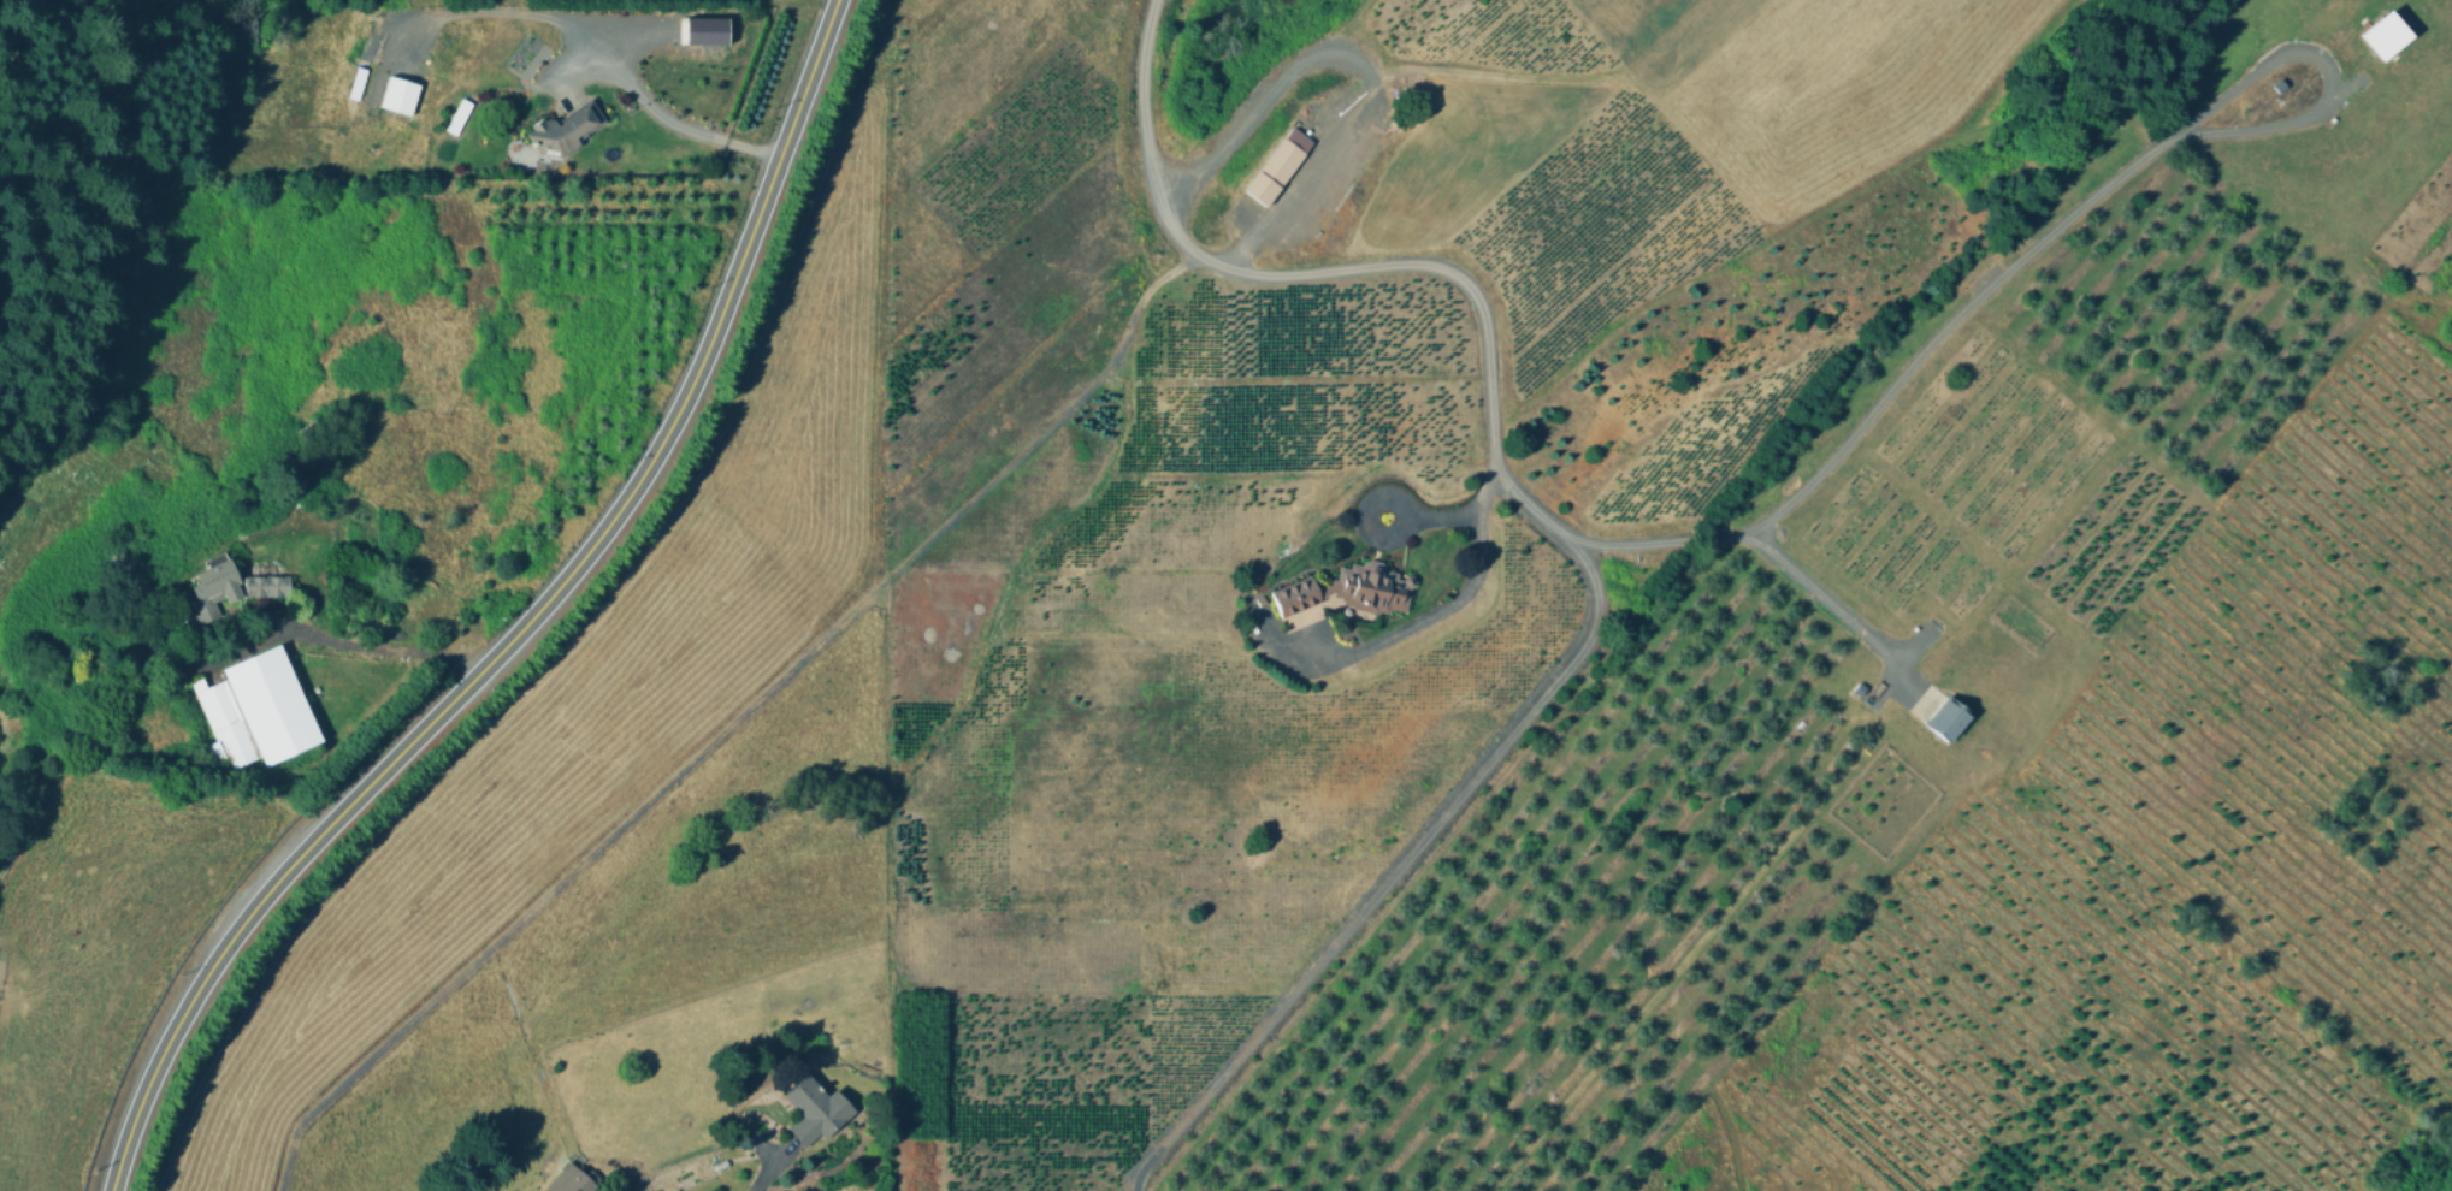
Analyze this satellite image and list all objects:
building: (398, 96)
road: (667, 122)
building: (565, 132)
building: (1274, 172)
road: (2015, 254)
road: (1406, 506)
road: (1556, 535)
building: (231, 588)
road: (1815, 588)
building: (1348, 591)
road: (519, 626)
crop: (1476, 634)
road: (388, 646)
building: (259, 712)
building: (816, 1108)
road: (768, 1174)
building: (572, 1179)

